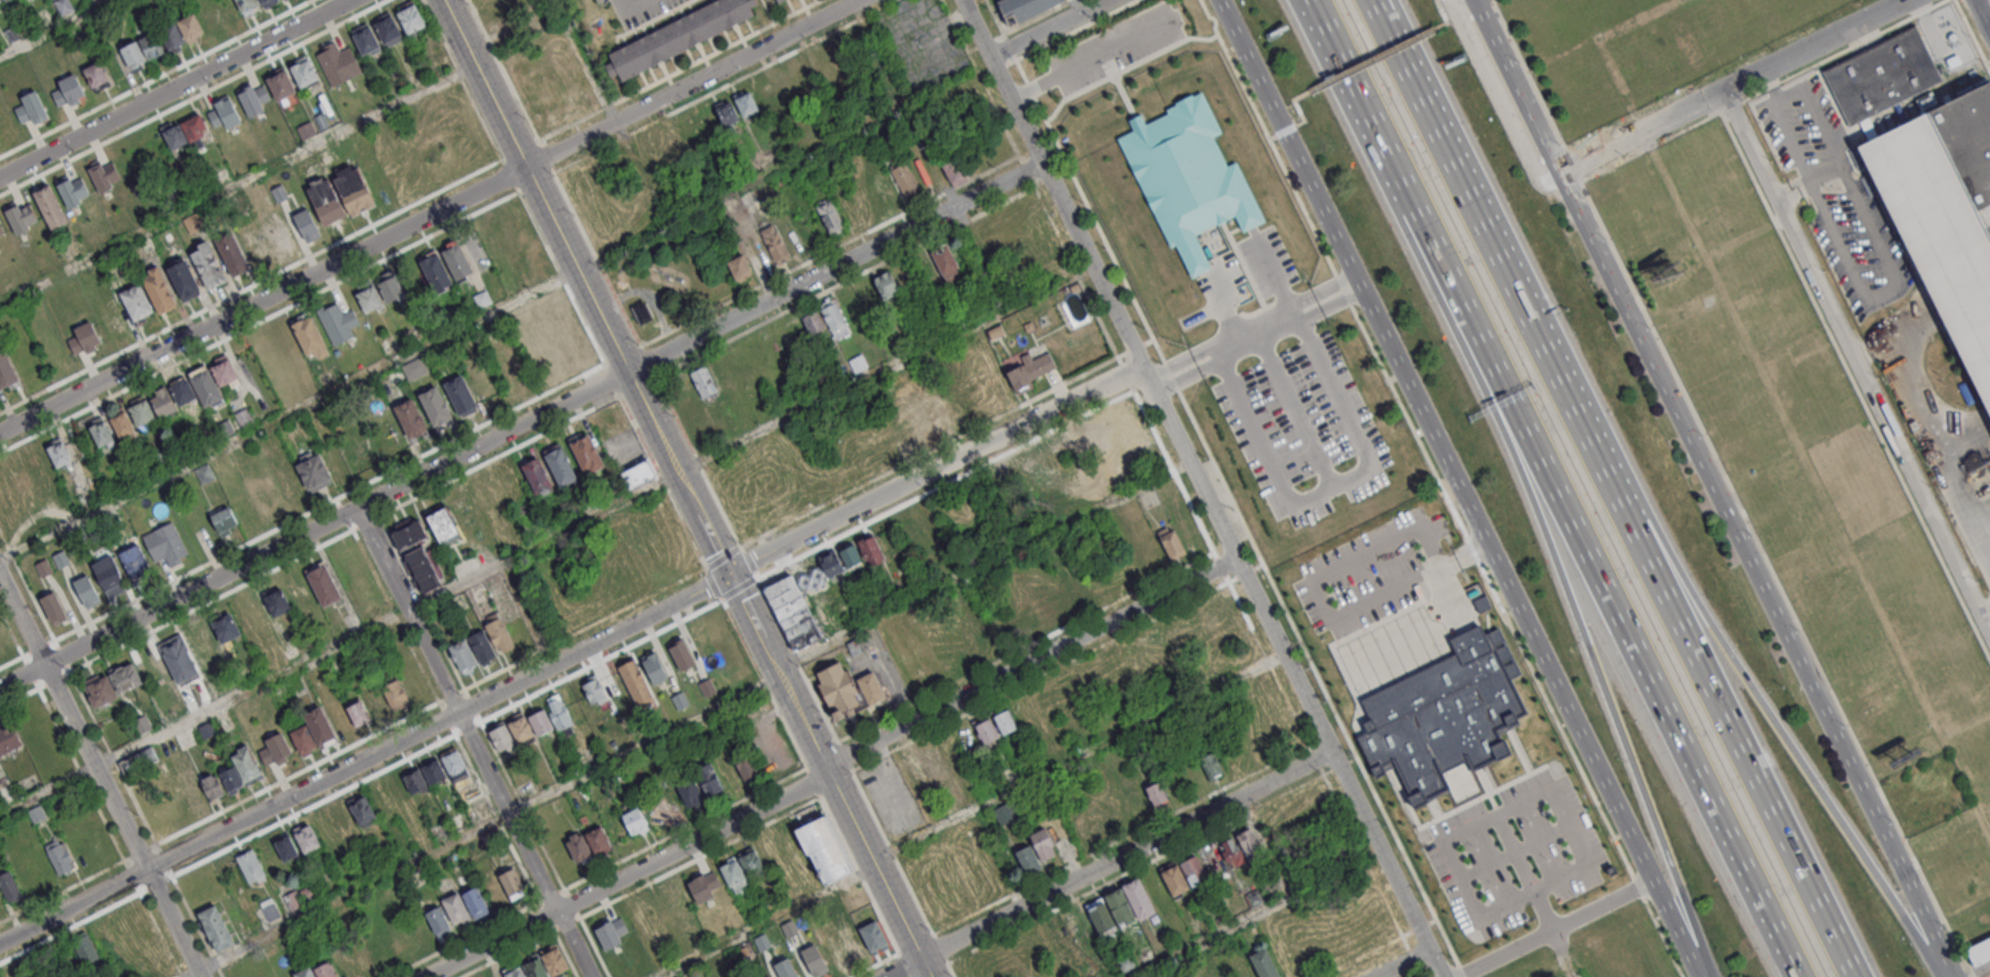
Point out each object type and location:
building: (775, 0)
building: (0, 1)
building: (770, 1)
building: (783, 2)
building: (266, 3)
road: (1988, 3)
building: (63, 6)
building: (247, 6)
road: (1077, 6)
building: (1021, 8)
road: (633, 9)
parking lot: (641, 10)
building: (227, 11)
road: (1443, 16)
building: (410, 17)
building: (190, 27)
road: (1049, 27)
road: (56, 28)
building: (388, 28)
building: (11, 34)
building: (171, 36)
building: (365, 38)
building: (681, 38)
power substation: (1946, 38)
building: (152, 46)
parking lot: (1111, 47)
building: (132, 54)
building: (433, 54)
road: (1093, 59)
road: (1372, 59)
road: (586, 61)
road: (1412, 61)
road: (1397, 62)
building: (337, 63)
building: (303, 71)
road: (504, 73)
building: (1881, 75)
building: (96, 76)
building: (794, 81)
road: (1774, 81)
building: (280, 83)
road: (1730, 86)
road: (176, 88)
building: (67, 90)
road: (1301, 94)
building: (766, 95)
building: (254, 97)
road: (1359, 98)
building: (560, 103)
building: (747, 103)
building: (31, 108)
building: (223, 112)
building: (727, 113)
road: (1302, 119)
building: (194, 126)
building: (306, 130)
building: (175, 136)
road: (1792, 142)
building: (669, 144)
road: (546, 158)
road: (793, 163)
building: (406, 164)
building: (953, 166)
road: (1844, 171)
building: (102, 175)
building: (906, 180)
building: (1189, 180)
road: (237, 186)
building: (352, 188)
building: (886, 189)
building: (72, 190)
building: (279, 192)
road: (1795, 197)
building: (324, 200)
building: (51, 207)
building: (1945, 214)
road: (430, 216)
building: (1008, 216)
building: (20, 217)
building: (830, 217)
building: (307, 224)
building: (195, 225)
building: (1, 230)
building: (274, 231)
building: (521, 240)
building: (252, 241)
road: (563, 242)
building: (774, 243)
building: (232, 253)
road: (1495, 255)
building: (457, 260)
road: (597, 260)
building: (945, 260)
parking lot: (1268, 262)
road: (1851, 265)
building: (210, 266)
building: (739, 267)
road: (836, 267)
building: (434, 269)
building: (183, 278)
building: (887, 284)
road: (1278, 285)
building: (390, 289)
building: (159, 291)
building: (369, 298)
building: (482, 298)
building: (136, 301)
road: (1225, 311)
building: (836, 319)
building: (337, 321)
building: (813, 321)
road: (1255, 336)
building: (310, 337)
building: (85, 338)
building: (263, 348)
road: (648, 362)
building: (858, 363)
road: (1855, 363)
road: (886, 370)
building: (224, 371)
building: (416, 371)
building: (6, 372)
building: (1030, 372)
building: (396, 376)
building: (703, 382)
building: (206, 387)
building: (182, 391)
building: (460, 394)
building: (163, 403)
building: (962, 404)
building: (435, 406)
building: (142, 412)
road: (288, 412)
building: (243, 416)
building: (410, 417)
building: (925, 422)
building: (122, 424)
building: (1112, 425)
building: (223, 428)
parking lot: (1304, 429)
building: (101, 432)
building: (908, 435)
building: (365, 451)
building: (59, 453)
building: (586, 453)
building: (38, 463)
road: (698, 463)
building: (560, 465)
building: (313, 472)
building: (536, 475)
building: (638, 475)
building: (17, 476)
building: (1002, 482)
road: (657, 483)
road: (1335, 486)
road: (1712, 487)
road: (1458, 488)
road: (1201, 489)
road: (1965, 491)
building: (491, 499)
building: (223, 519)
building: (442, 524)
road: (313, 529)
road: (706, 529)
building: (408, 534)
building: (165, 544)
building: (1172, 544)
building: (871, 549)
building: (850, 556)
road: (1464, 556)
building: (61, 559)
building: (136, 563)
road: (748, 563)
building: (831, 563)
building: (43, 567)
road: (982, 567)
building: (422, 568)
traffic signals: (728, 574)
parking lot: (1371, 575)
building: (110, 576)
road: (1564, 582)
building: (323, 583)
road: (1319, 585)
road: (1595, 587)
building: (86, 589)
building: (1079, 592)
road: (1453, 594)
building: (278, 603)
road: (744, 606)
building: (53, 608)
building: (793, 612)
road: (1987, 617)
building: (227, 629)
building: (499, 635)
building: (481, 645)
building: (290, 651)
building: (680, 653)
building: (462, 655)
road: (573, 656)
building: (179, 660)
road: (797, 660)
building: (1136, 661)
building: (654, 667)
building: (127, 679)
road: (1705, 682)
building: (635, 683)
road: (1749, 683)
building: (706, 687)
building: (871, 687)
building: (837, 688)
road: (247, 690)
building: (101, 691)
building: (395, 692)
building: (595, 692)
building: (375, 700)
building: (680, 700)
building: (338, 713)
building: (357, 713)
building: (559, 714)
building: (1445, 718)
building: (1005, 721)
building: (540, 722)
building: (319, 725)
building: (206, 729)
building: (521, 729)
building: (986, 731)
building: (501, 736)
building: (9, 738)
building: (304, 740)
road: (475, 741)
building: (1250, 745)
building: (279, 748)
road: (844, 755)
road: (1076, 757)
building: (139, 761)
building: (931, 761)
building: (1211, 764)
building: (247, 766)
building: (746, 766)
building: (456, 767)
road: (829, 767)
building: (434, 772)
building: (913, 772)
road: (99, 777)
building: (709, 778)
building: (232, 780)
building: (416, 785)
building: (213, 787)
building: (689, 791)
parking lot: (890, 798)
building: (1155, 799)
road: (844, 807)
building: (654, 812)
building: (363, 813)
road: (1500, 814)
building: (634, 820)
building: (457, 822)
road: (481, 825)
building: (438, 831)
building: (307, 839)
building: (598, 839)
building: (1247, 842)
building: (1043, 845)
building: (579, 847)
building: (79, 848)
building: (823, 849)
building: (1230, 849)
building: (288, 851)
road: (890, 851)
parking lot: (1516, 854)
building: (60, 858)
building: (1026, 859)
building: (751, 862)
road: (1107, 864)
building: (251, 867)
building: (1194, 870)
building: (732, 872)
road: (1526, 872)
building: (1174, 879)
building: (511, 882)
building: (9, 885)
building: (704, 886)
building: (309, 895)
building: (1138, 898)
building: (1256, 898)
building: (293, 901)
building: (475, 901)
building: (668, 904)
building: (455, 907)
building: (1120, 907)
building: (269, 909)
road: (1264, 912)
building: (1101, 917)
building: (438, 921)
road: (762, 921)
building: (1082, 926)
building: (789, 927)
building: (217, 929)
road: (1555, 929)
building: (610, 932)
road: (159, 935)
building: (872, 935)
building: (400, 936)
building: (1064, 936)
road: (529, 942)
building: (762, 942)
building: (852, 942)
road: (938, 948)
building: (84, 949)
building: (744, 950)
building: (1979, 951)
road: (1564, 953)
building: (835, 954)
building: (364, 956)
building: (814, 960)
building: (555, 962)
building: (1264, 964)
road: (1402, 964)
building: (1125, 965)
building: (786, 968)
building: (535, 969)
road: (949, 969)
building: (325, 971)
building: (305, 973)
building: (515, 973)
building: (767, 976)

